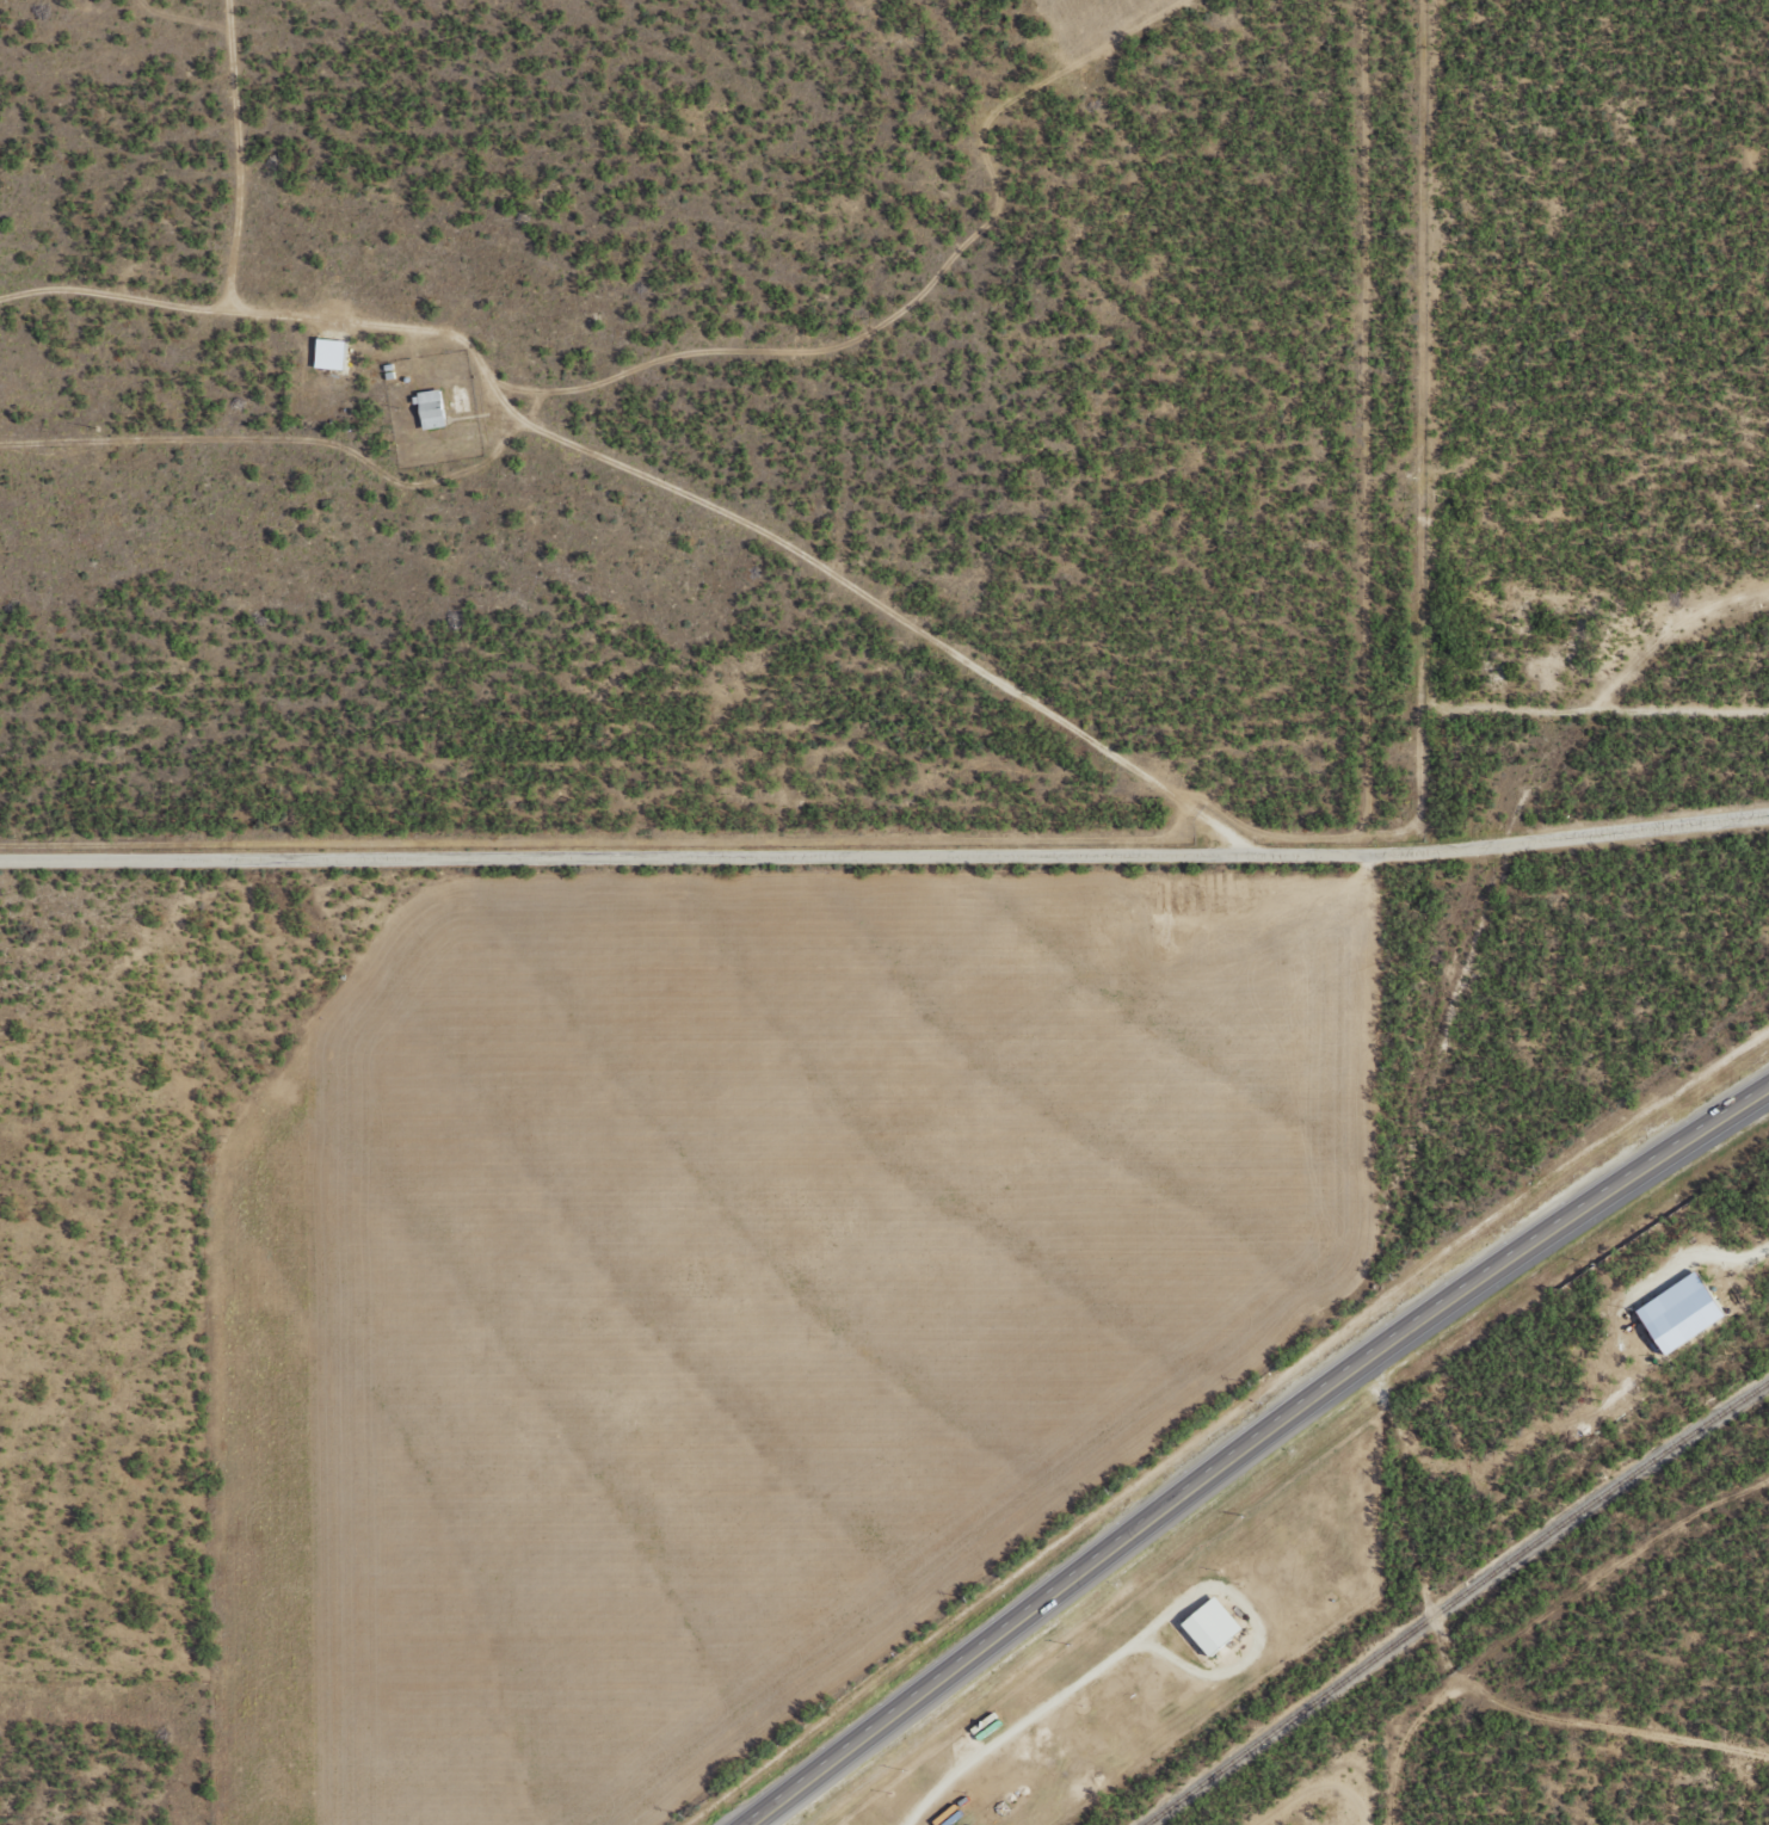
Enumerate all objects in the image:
building: (335, 352)
building: (437, 409)
road: (886, 819)
building: (1675, 1313)
road: (1255, 1445)
road: (1394, 1486)
railway: (1450, 1597)
building: (1207, 1624)
road: (1570, 1724)

